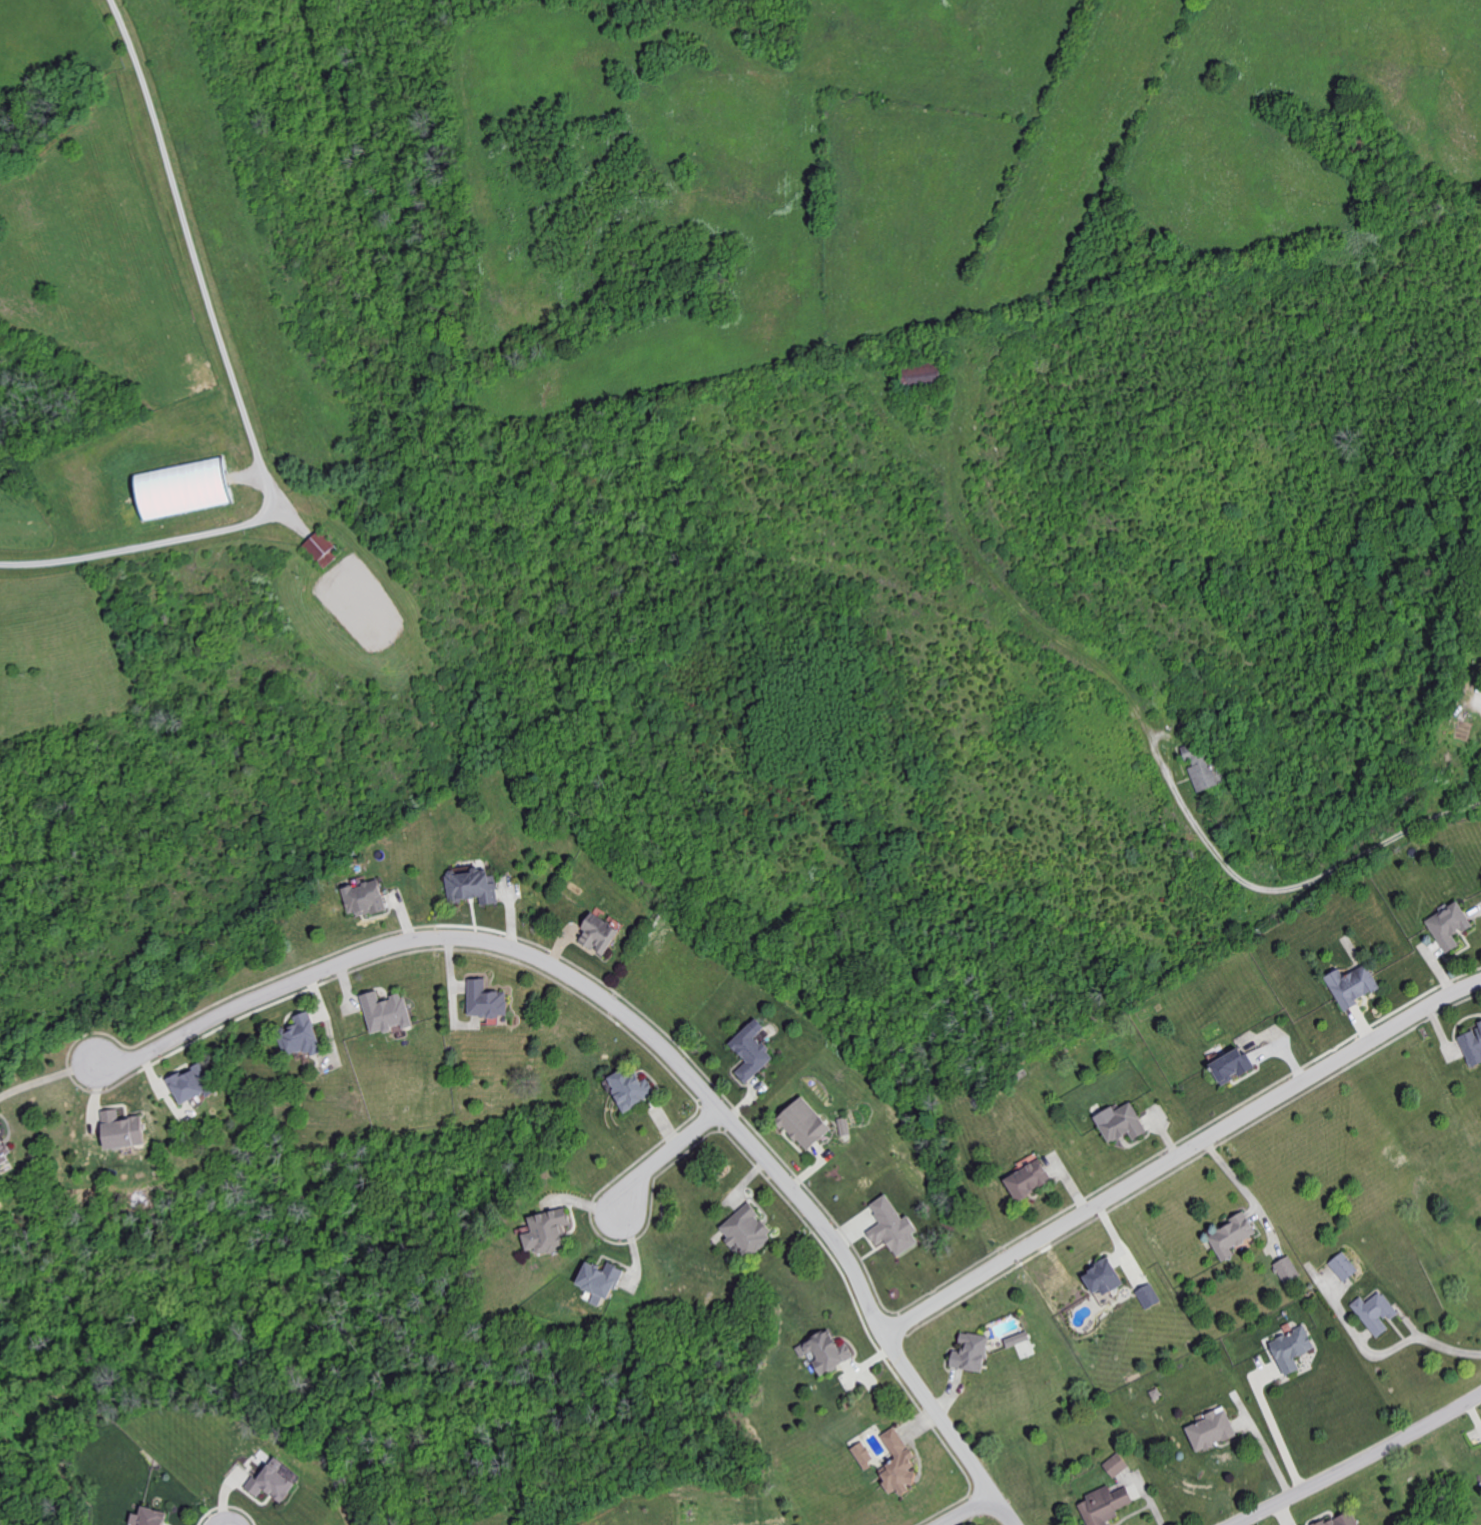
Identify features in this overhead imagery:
road: (197, 265)
building: (919, 374)
building: (181, 489)
road: (125, 546)
building: (321, 549)
road: (1479, 697)
building: (1199, 766)
road: (1297, 882)
building: (471, 886)
building: (363, 899)
building: (1449, 926)
building: (598, 934)
road: (424, 940)
building: (1352, 986)
building: (485, 1001)
building: (386, 1013)
building: (299, 1037)
building: (1472, 1046)
building: (751, 1051)
building: (1231, 1067)
road: (48, 1075)
building: (189, 1082)
building: (630, 1087)
building: (1120, 1121)
building: (804, 1122)
building: (845, 1125)
building: (119, 1128)
building: (0, 1132)
building: (3, 1152)
road: (667, 1155)
road: (1180, 1156)
building: (1027, 1178)
road: (813, 1217)
building: (892, 1226)
building: (547, 1230)
building: (746, 1230)
building: (1231, 1235)
building: (1343, 1266)
building: (1287, 1269)
building: (1102, 1276)
building: (598, 1280)
building: (1148, 1295)
building: (1375, 1312)
building: (1017, 1338)
building: (1291, 1348)
road: (1383, 1350)
building: (825, 1351)
building: (970, 1351)
building: (1211, 1429)
road: (948, 1431)
road: (1280, 1434)
building: (863, 1454)
road: (1360, 1461)
building: (898, 1463)
building: (1116, 1464)
building: (273, 1481)
building: (1104, 1504)
road: (969, 1511)
building: (148, 1517)
building: (1342, 1519)

